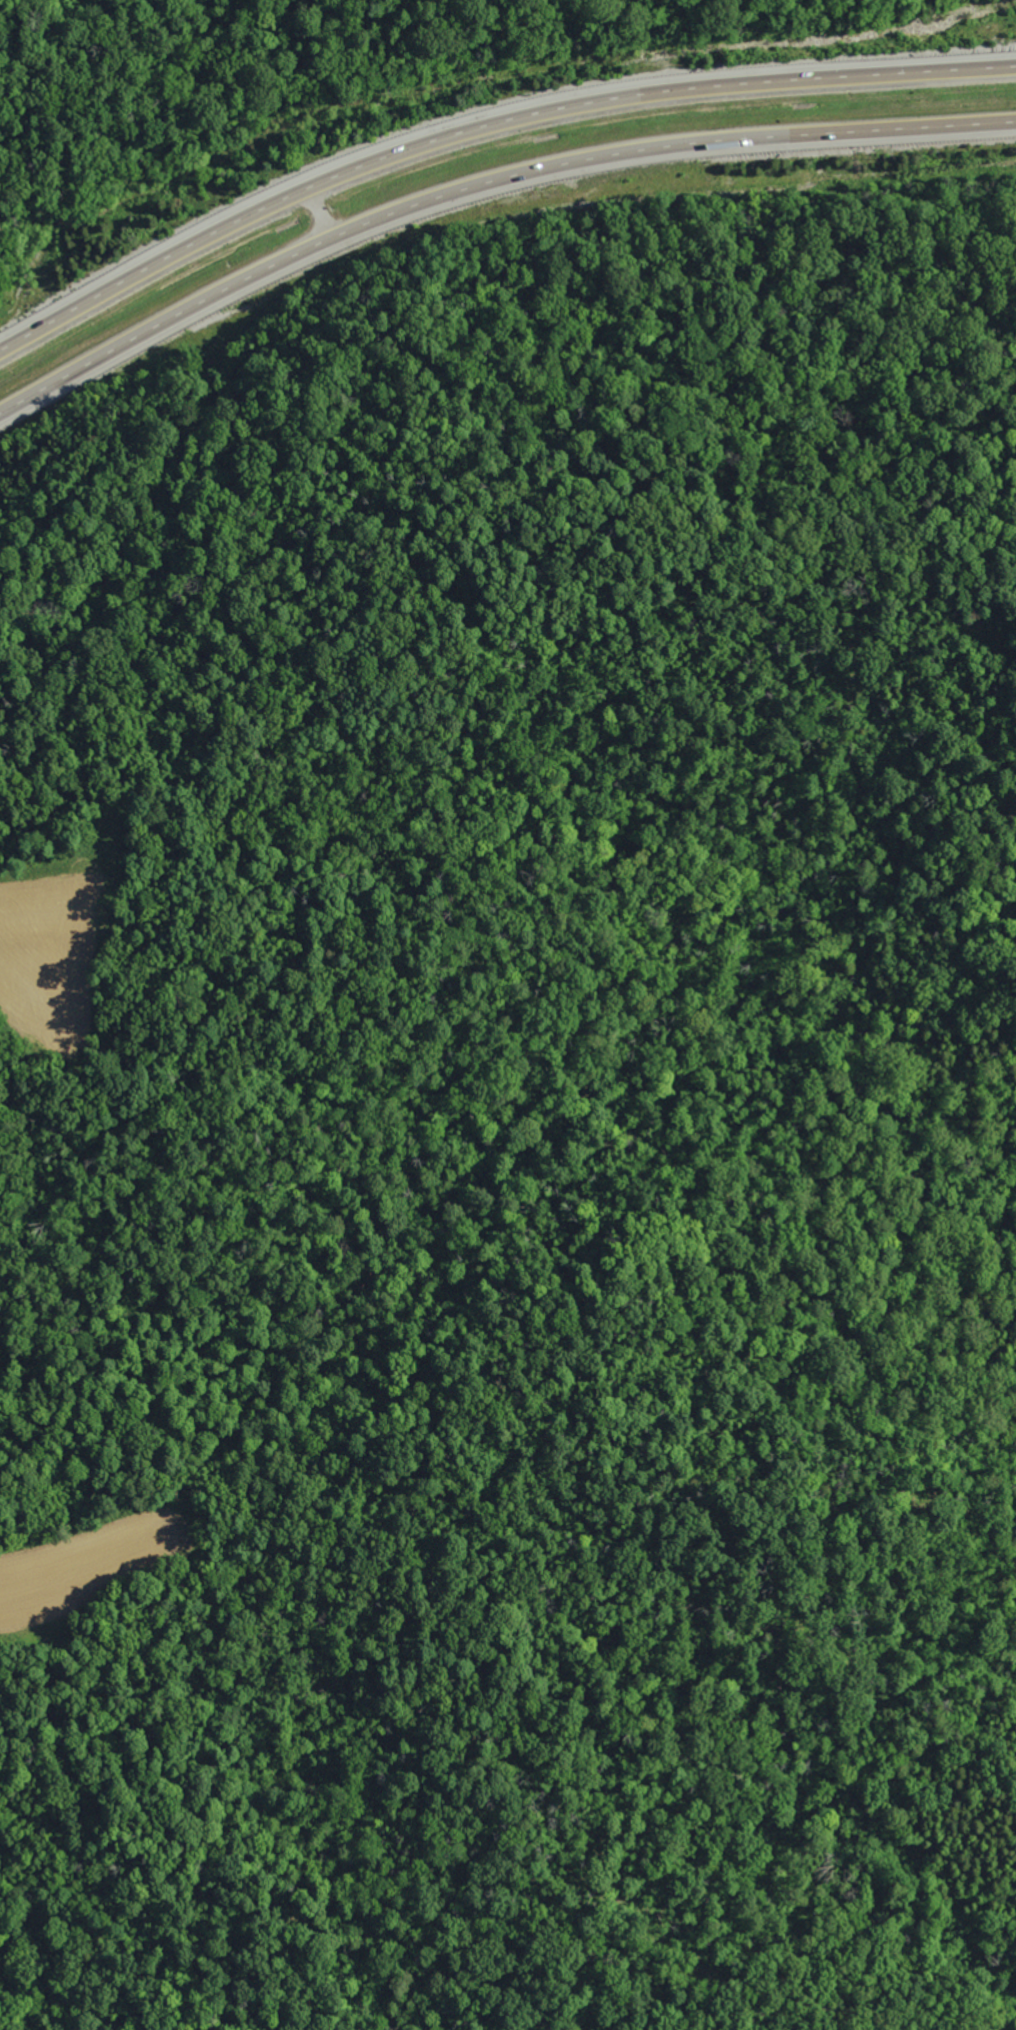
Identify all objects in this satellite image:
road: (486, 127)
road: (484, 193)

